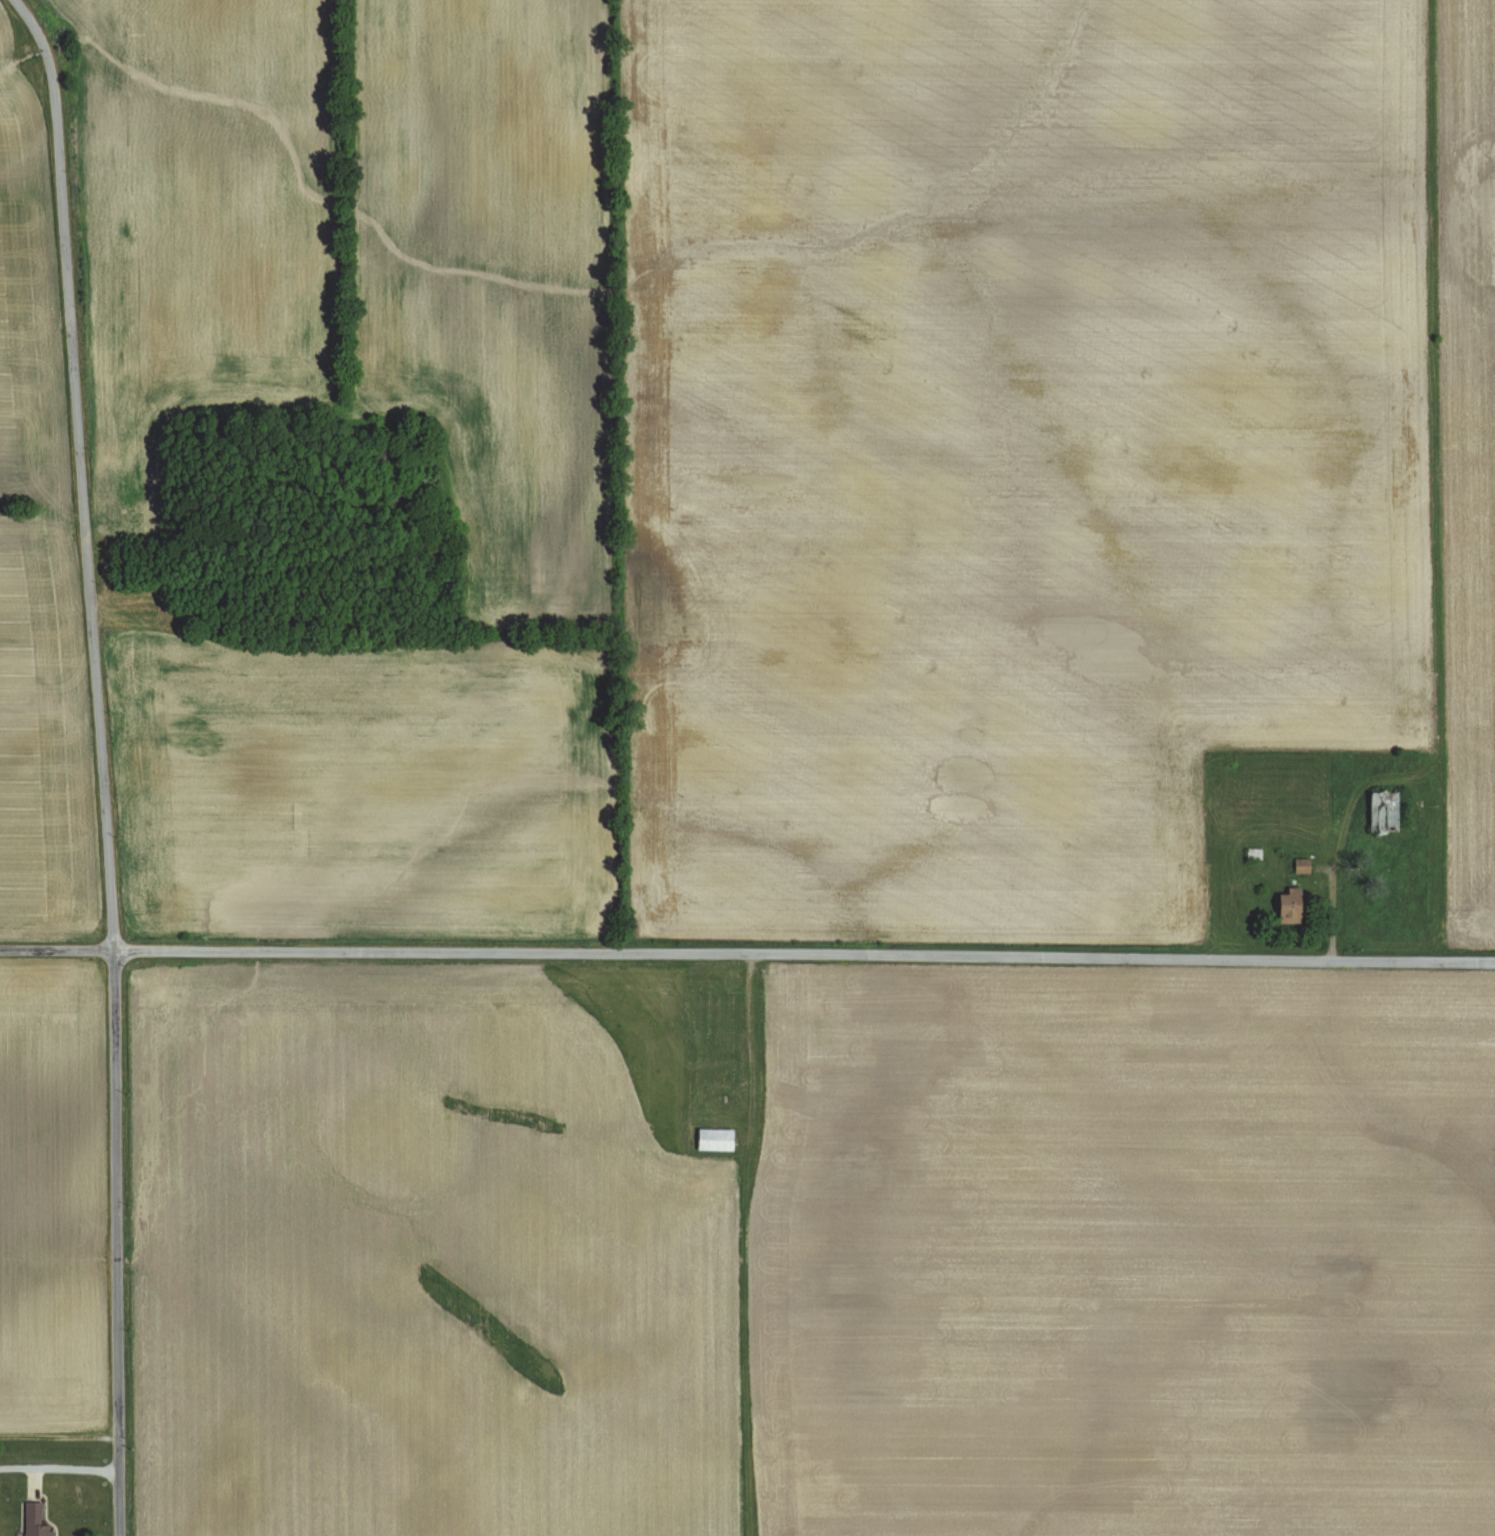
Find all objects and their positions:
road: (101, 761)
building: (1290, 909)
road: (747, 952)
road: (751, 1047)
building: (717, 1139)
road: (60, 1469)
building: (35, 1521)

